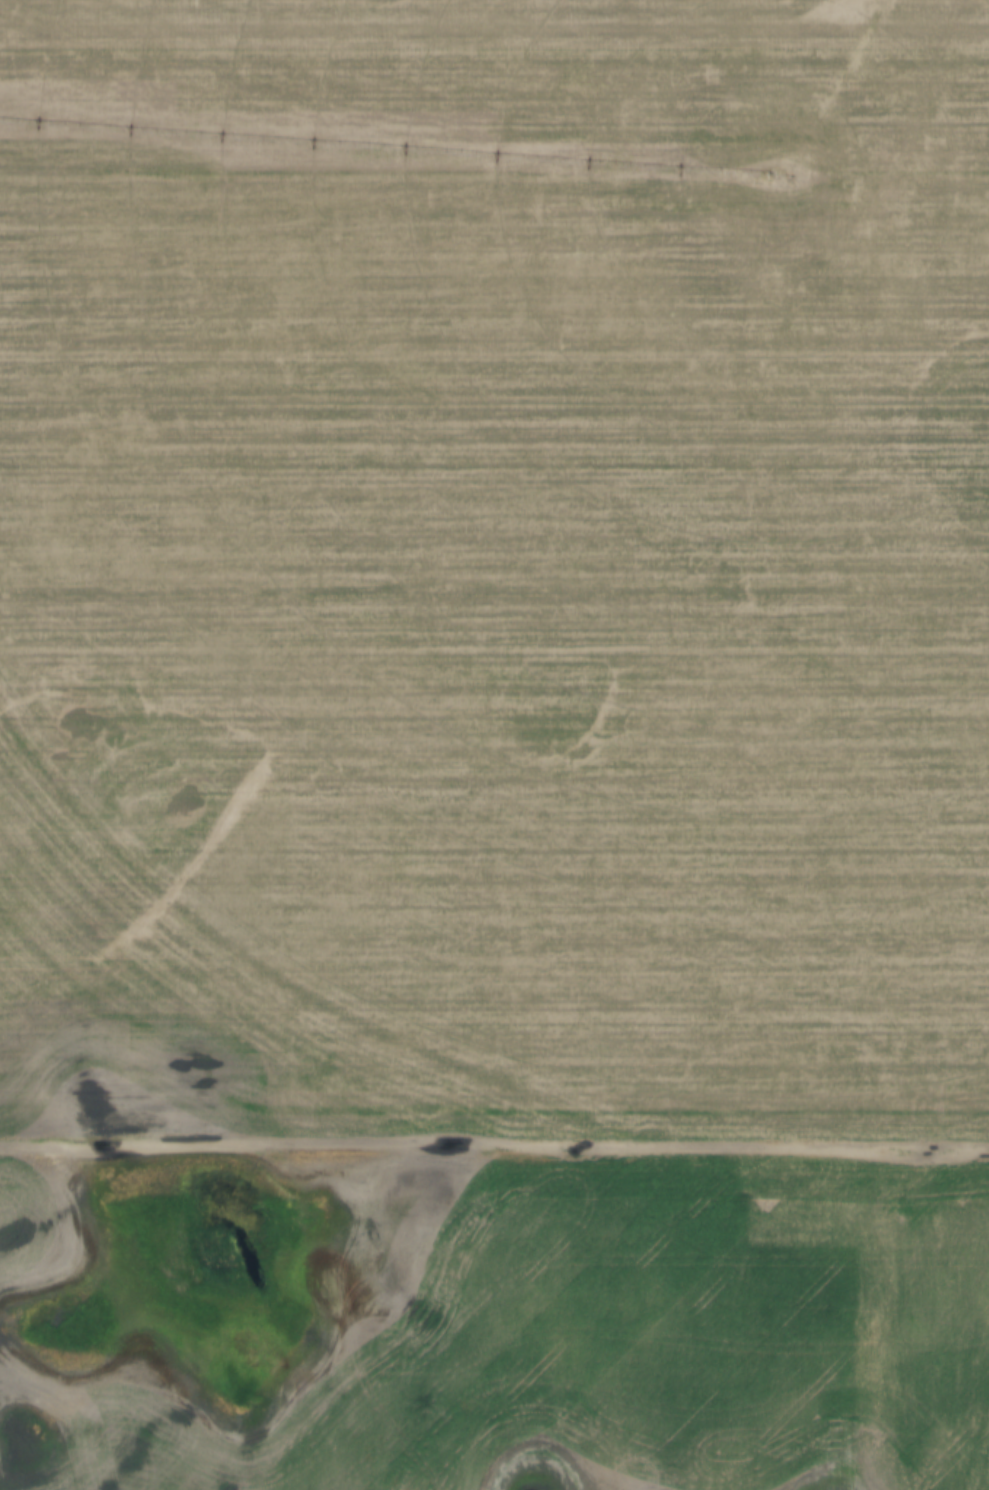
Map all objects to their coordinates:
road: (494, 1144)
road: (786, 1317)

